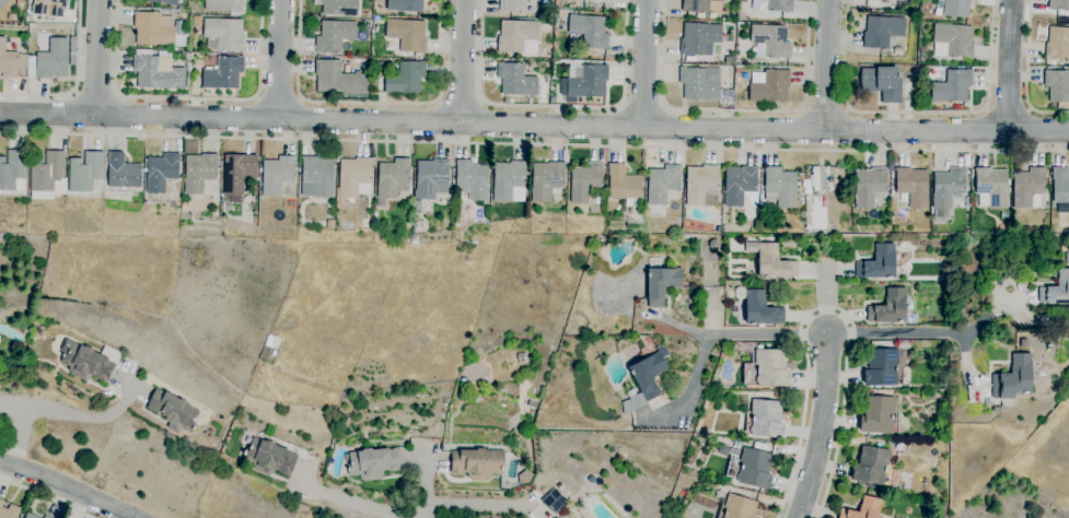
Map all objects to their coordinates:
building: (535, 0)
building: (888, 0)
building: (903, 0)
building: (163, 1)
building: (599, 1)
building: (3, 3)
building: (1058, 4)
building: (405, 5)
building: (512, 5)
building: (701, 5)
building: (772, 5)
building: (224, 7)
building: (48, 8)
building: (340, 8)
building: (955, 8)
building: (365, 15)
building: (12, 17)
building: (368, 23)
building: (153, 28)
building: (589, 31)
building: (882, 31)
building: (224, 34)
building: (335, 35)
building: (407, 35)
building: (518, 36)
building: (699, 37)
building: (954, 39)
building: (770, 42)
building: (1057, 44)
road: (97, 58)
building: (53, 60)
road: (280, 60)
road: (462, 61)
building: (11, 62)
road: (643, 63)
road: (1009, 64)
road: (827, 66)
building: (31, 67)
building: (737, 70)
building: (158, 72)
building: (221, 72)
road: (1027, 73)
building: (337, 78)
building: (405, 79)
building: (515, 80)
road: (77, 82)
building: (588, 82)
building: (882, 83)
building: (1057, 85)
building: (701, 86)
building: (768, 86)
building: (952, 86)
road: (75, 93)
road: (116, 95)
road: (96, 96)
road: (188, 98)
road: (256, 99)
road: (300, 99)
road: (278, 102)
road: (439, 102)
road: (370, 103)
road: (481, 103)
road: (460, 105)
road: (639, 105)
road: (554, 107)
road: (1008, 108)
road: (826, 109)
road: (734, 111)
road: (916, 113)
road: (534, 126)
road: (534, 144)
building: (12, 170)
building: (85, 172)
building: (121, 172)
building: (160, 173)
building: (199, 173)
building: (239, 173)
building: (276, 175)
building: (47, 176)
building: (353, 176)
building: (317, 177)
building: (393, 179)
building: (472, 179)
building: (507, 179)
building: (432, 180)
building: (546, 180)
building: (585, 181)
building: (662, 184)
building: (700, 184)
building: (739, 185)
building: (624, 186)
building: (781, 186)
building: (869, 186)
building: (1060, 186)
building: (913, 187)
building: (948, 187)
building: (991, 188)
building: (1027, 188)
building: (417, 207)
building: (815, 212)
building: (718, 229)
building: (713, 245)
building: (1067, 258)
building: (772, 263)
building: (878, 263)
building: (660, 284)
building: (1056, 290)
road: (826, 299)
building: (758, 308)
road: (826, 308)
building: (890, 308)
road: (1012, 310)
road: (693, 330)
road: (895, 332)
road: (768, 333)
building: (648, 341)
building: (271, 344)
building: (737, 346)
building: (262, 357)
building: (89, 362)
building: (768, 368)
building: (882, 368)
road: (699, 369)
building: (1013, 378)
building: (463, 379)
building: (643, 381)
building: (532, 404)
building: (997, 409)
building: (173, 411)
road: (73, 415)
building: (878, 415)
building: (765, 420)
road: (820, 426)
road: (15, 435)
building: (723, 450)
building: (269, 458)
building: (373, 462)
building: (477, 463)
building: (874, 468)
building: (752, 469)
building: (591, 480)
road: (425, 482)
road: (66, 488)
road: (44, 498)
building: (554, 502)
road: (357, 503)
road: (481, 505)
building: (737, 507)
building: (863, 509)
building: (9, 510)
building: (30, 516)
building: (44, 517)
building: (46, 517)
building: (557, 517)

